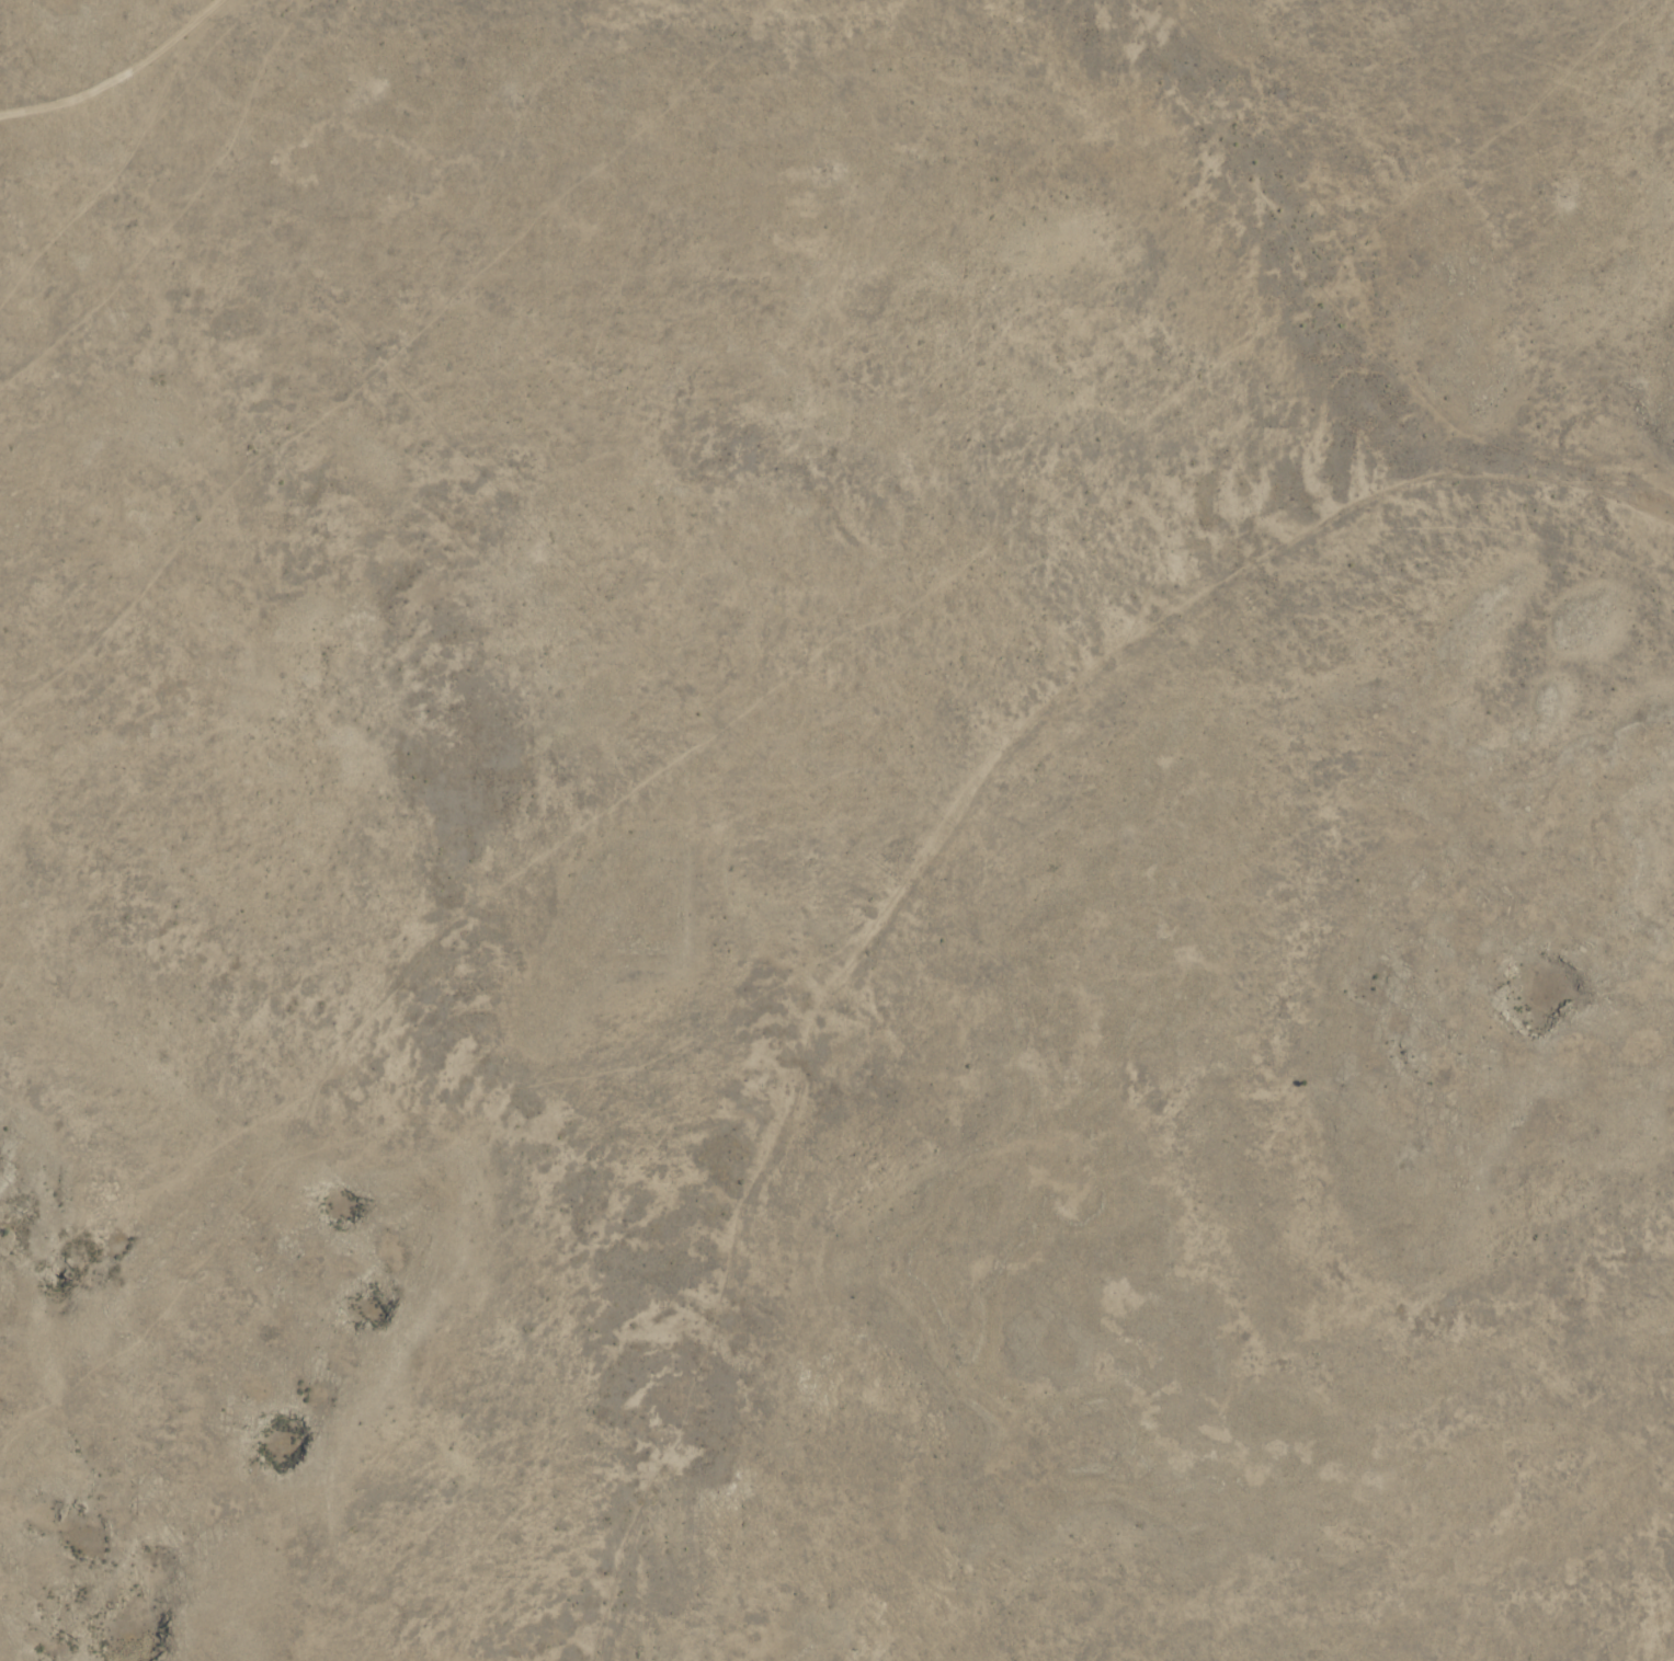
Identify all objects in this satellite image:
road: (119, 78)

